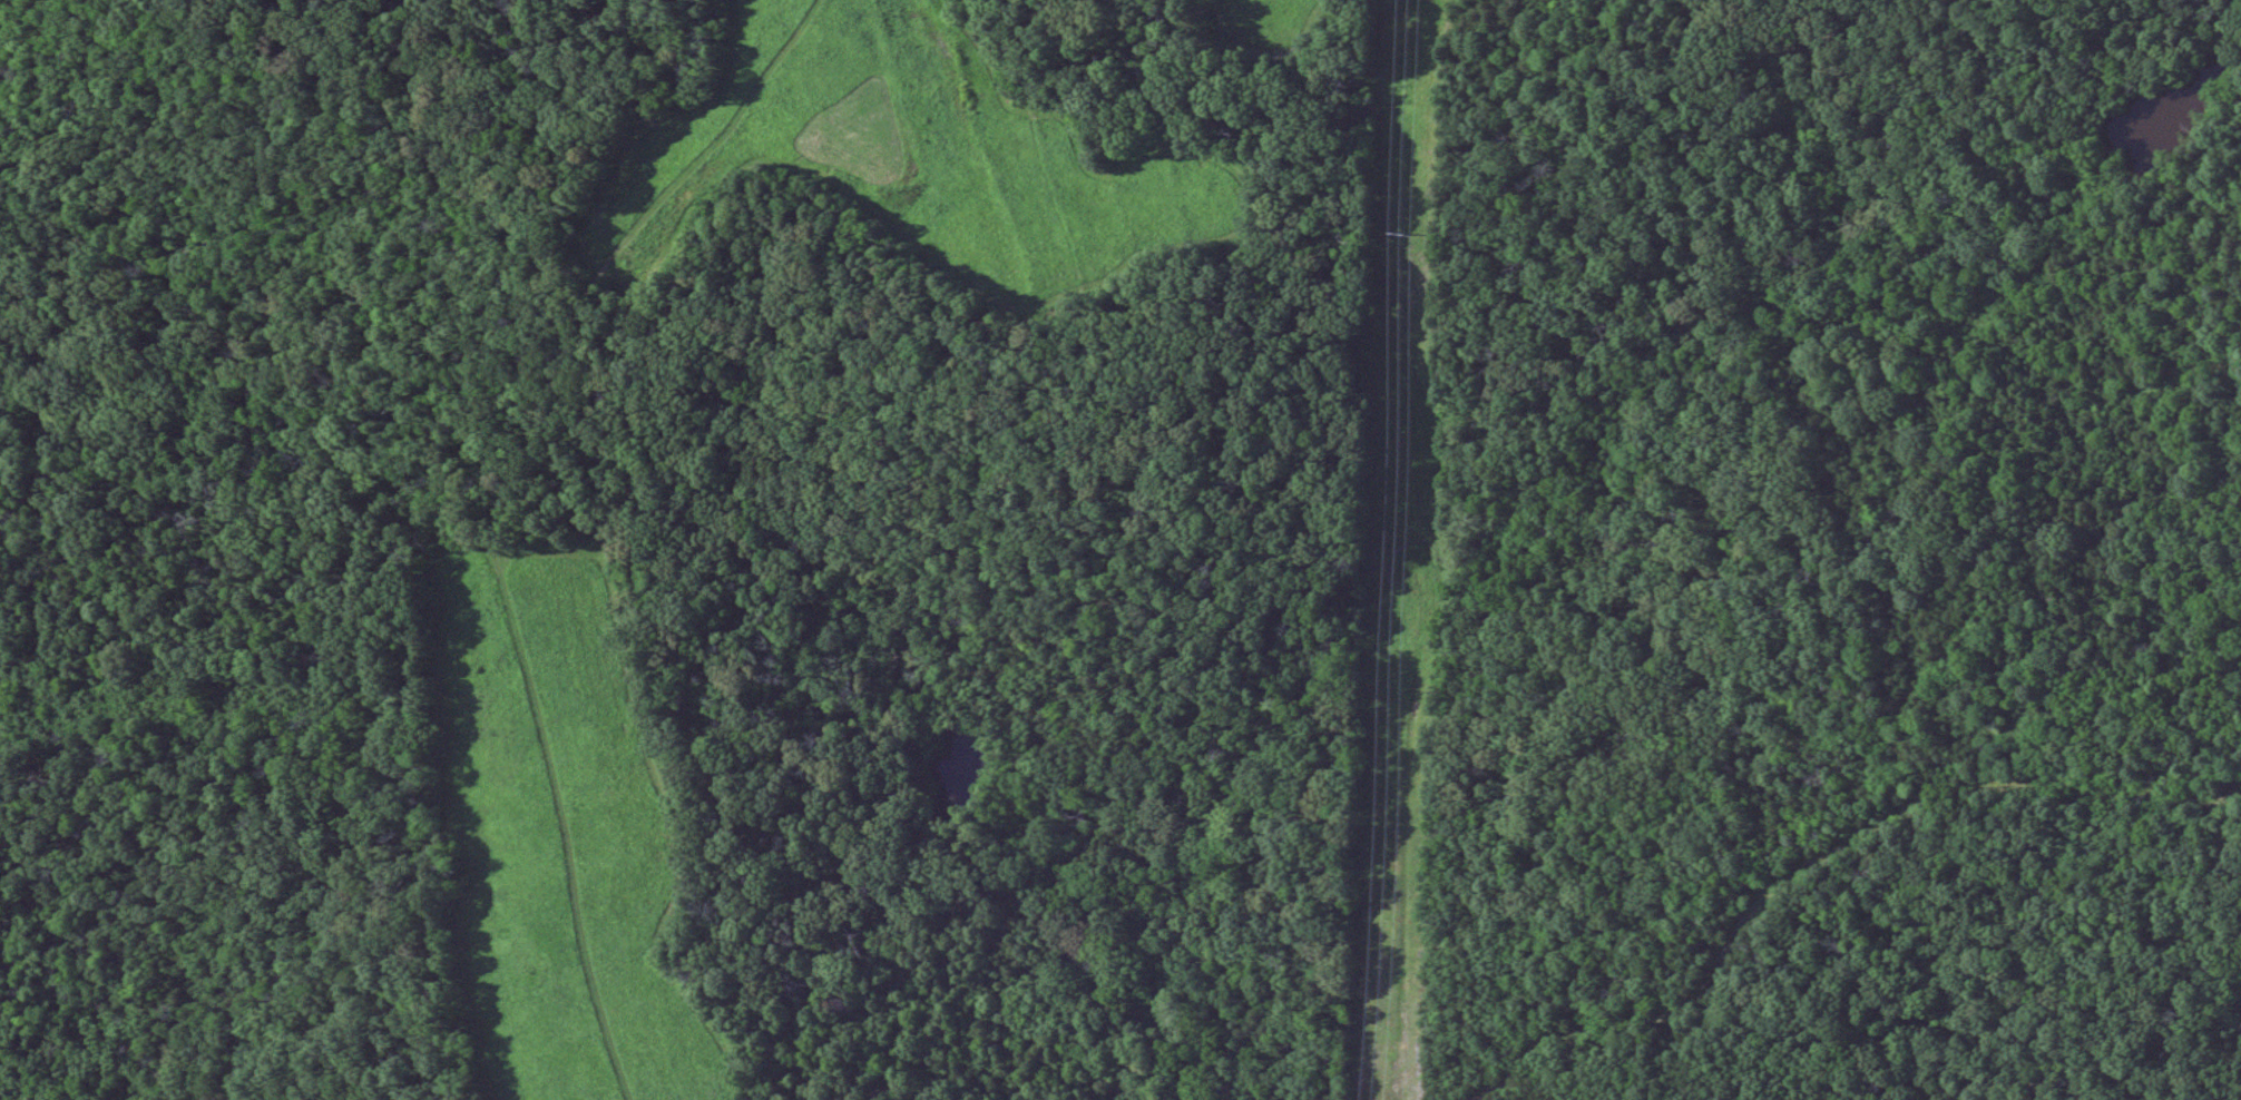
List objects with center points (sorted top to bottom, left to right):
power tower: (1410, 230)

